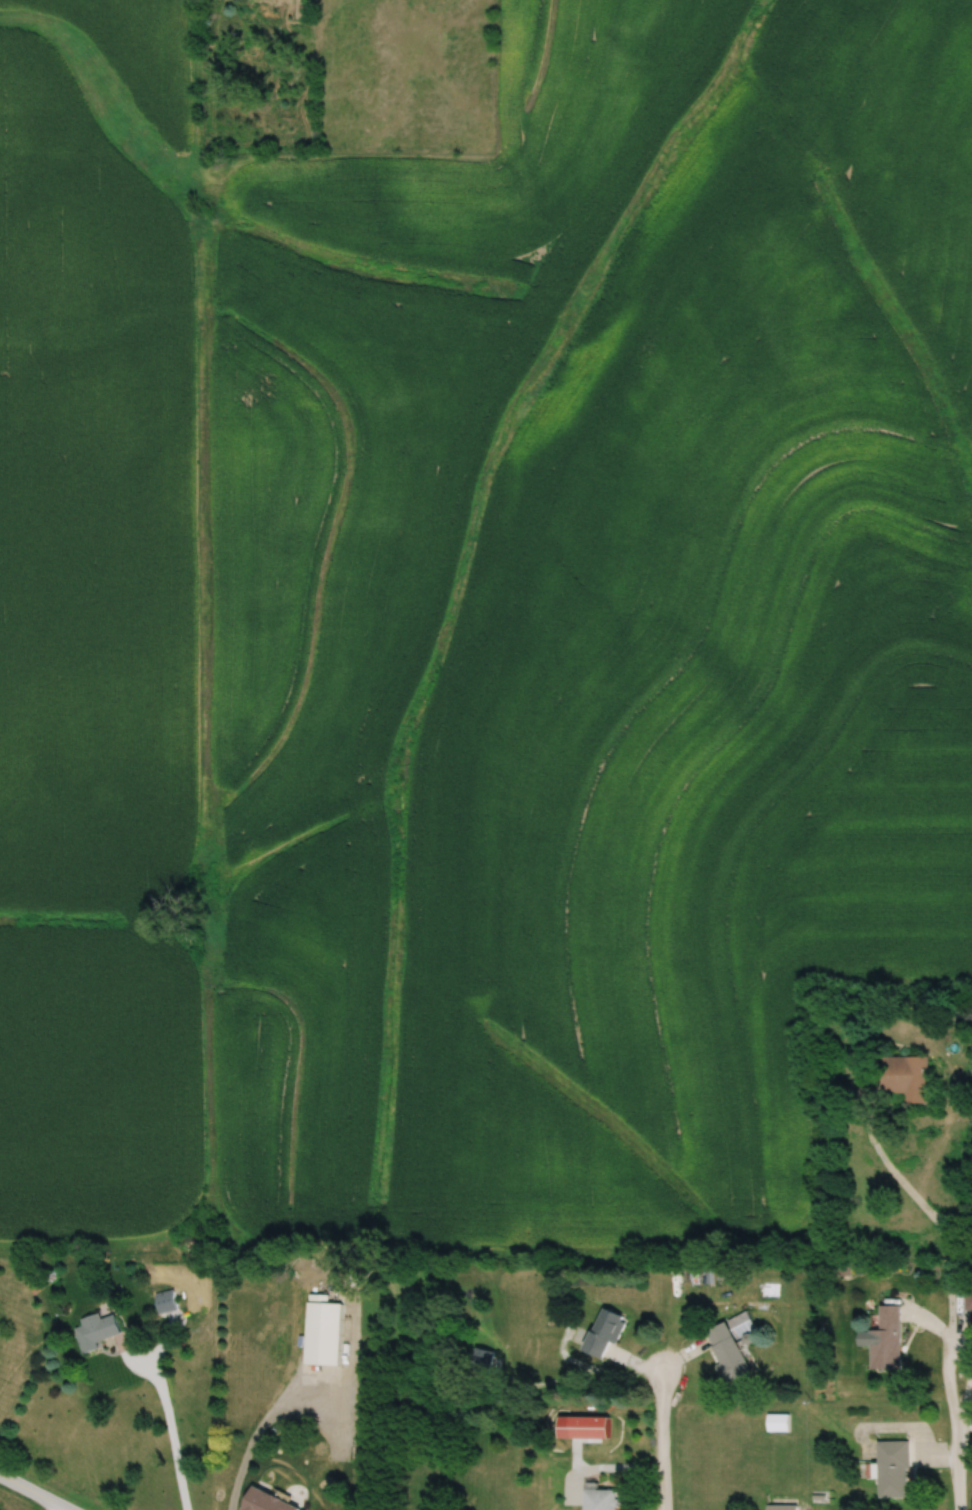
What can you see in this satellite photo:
crop: (476, 629)
building: (907, 1077)
road: (926, 1209)
building: (967, 1298)
building: (165, 1301)
building: (96, 1331)
building: (322, 1332)
building: (605, 1333)
building: (886, 1340)
building: (730, 1352)
building: (778, 1423)
road: (955, 1430)
road: (172, 1432)
road: (255, 1433)
road: (664, 1439)
building: (892, 1469)
road: (32, 1493)
building: (604, 1500)
building: (266, 1502)
building: (781, 1507)

